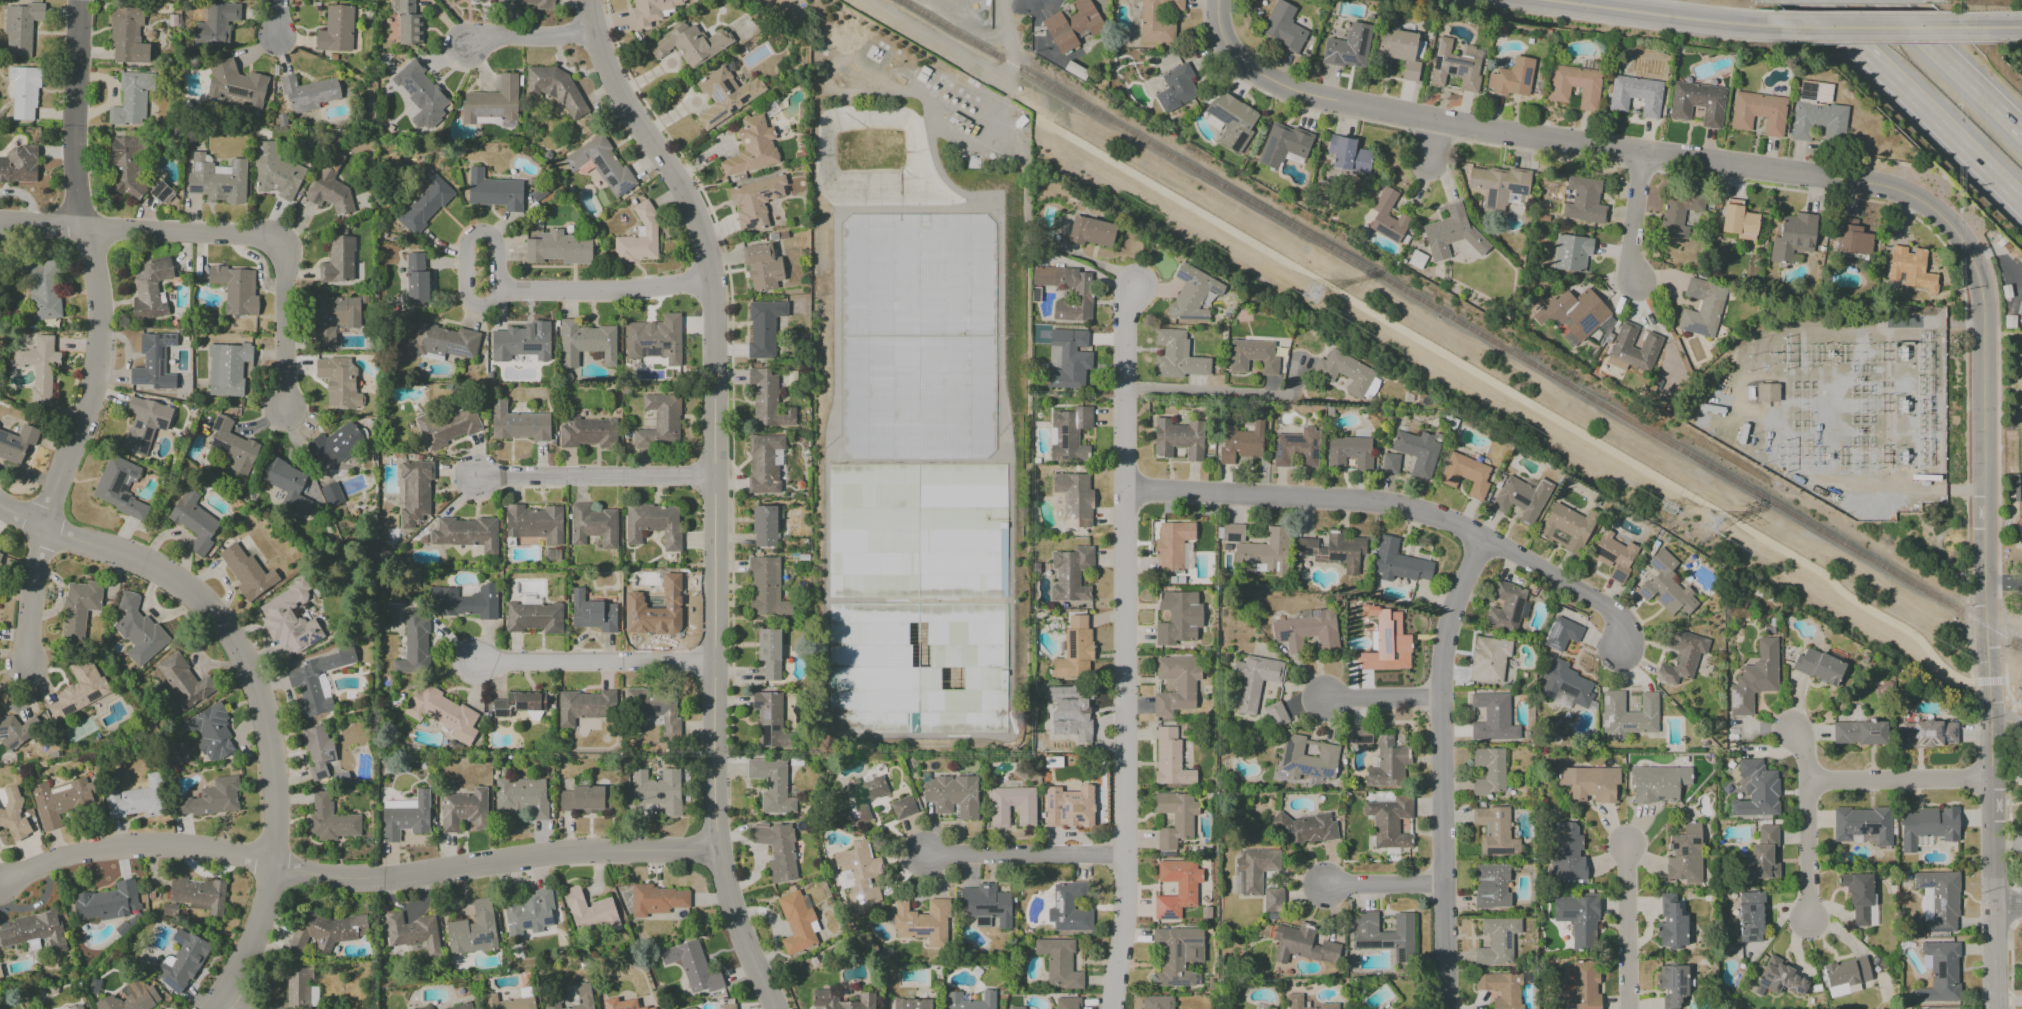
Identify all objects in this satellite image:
road: (2006, 0)
road: (1030, 2)
building: (530, 3)
road: (1724, 7)
building: (651, 11)
road: (1861, 12)
road: (1980, 12)
road: (1672, 16)
road: (277, 18)
building: (1157, 20)
building: (407, 22)
building: (216, 25)
building: (1072, 25)
building: (1282, 26)
road: (1988, 26)
building: (20, 27)
road: (1877, 27)
building: (336, 30)
road: (534, 35)
building: (127, 36)
rooftop solar panel: (1363, 41)
building: (689, 44)
road: (1039, 45)
building: (1348, 47)
rooftop solar panel: (1328, 51)
building: (1402, 51)
rooftop solar panel: (1347, 57)
road: (1007, 63)
building: (1456, 65)
road: (1953, 65)
rooftop solar panel: (1527, 76)
building: (1512, 77)
building: (235, 83)
building: (1574, 85)
building: (556, 88)
building: (1175, 88)
rooftop solar panel: (239, 90)
building: (22, 92)
rooftop solar panel: (716, 92)
building: (1815, 92)
building: (309, 93)
building: (420, 94)
building: (1636, 95)
building: (725, 96)
building: (131, 100)
road: (1916, 102)
building: (1697, 103)
rooftop solar panel: (494, 110)
building: (1758, 113)
rooftop solar panel: (1223, 114)
rooftop solar panel: (716, 117)
rooftop solar panel: (1235, 119)
rooftop solar panel: (488, 120)
building: (1232, 120)
building: (1817, 120)
road: (1427, 142)
building: (1283, 144)
building: (751, 148)
rooftop solar panel: (1269, 149)
building: (1348, 154)
building: (19, 164)
building: (126, 164)
building: (601, 164)
rooftop solar panel: (199, 166)
building: (276, 172)
building: (217, 179)
building: (1497, 185)
rooftop solar panel: (625, 186)
road: (1767, 186)
rooftop solar panel: (197, 189)
rooftop solar panel: (228, 189)
rooftop solar panel: (1518, 190)
building: (159, 191)
building: (494, 191)
building: (329, 193)
rooftop solar panel: (765, 194)
building: (1583, 200)
building: (754, 201)
building: (425, 202)
building: (1678, 212)
road: (1634, 216)
building: (1387, 217)
road: (1942, 219)
building: (1738, 220)
rooftop solar panel: (751, 223)
building: (1091, 231)
rooftop solar panel: (1386, 231)
road: (142, 233)
building: (532, 233)
building: (1452, 233)
building: (638, 237)
building: (1793, 237)
building: (1852, 238)
building: (559, 248)
road: (474, 251)
building: (1571, 252)
building: (338, 260)
building: (762, 267)
building: (1910, 269)
rooftop solar panel: (1183, 277)
building: (416, 279)
road: (609, 288)
building: (150, 289)
building: (236, 289)
building: (42, 290)
rooftop solar panel: (1217, 290)
building: (2007, 291)
building: (1081, 294)
building: (1193, 294)
rooftop solar panel: (1035, 296)
building: (1701, 307)
building: (2021, 309)
building: (1573, 313)
building: (337, 316)
building: (2010, 322)
railway: (1462, 323)
rooftop solar panel: (1585, 324)
building: (763, 327)
rooftop solar panel: (1695, 328)
road: (288, 331)
rooftop solar panel: (754, 332)
rooftop solar panel: (765, 335)
building: (915, 337)
road: (102, 339)
building: (655, 339)
building: (444, 341)
building: (521, 342)
building: (585, 342)
rooftop solar panel: (645, 343)
rooftop solar panel: (448, 344)
rooftop solar panel: (528, 347)
rooftop solar panel: (515, 348)
building: (1632, 348)
rooftop solar panel: (458, 350)
rooftop solar panel: (752, 350)
rooftop solar panel: (766, 355)
building: (1177, 355)
building: (1252, 356)
building: (153, 357)
building: (1070, 359)
building: (39, 367)
building: (227, 369)
building: (1344, 372)
building: (338, 382)
road: (731, 388)
building: (1371, 388)
building: (1765, 392)
road: (1205, 394)
building: (767, 400)
road: (1539, 409)
park: (2010, 414)
power substation: (1843, 417)
building: (660, 421)
building: (144, 423)
building: (519, 423)
building: (448, 426)
rooftop solar panel: (1067, 429)
building: (587, 433)
building: (1068, 433)
building: (1178, 438)
rooftop solar panel: (1293, 438)
rooftop solar panel: (1064, 442)
building: (1241, 442)
park: (2019, 443)
building: (16, 444)
building: (232, 446)
building: (335, 446)
building: (1297, 447)
building: (1349, 452)
building: (1417, 452)
building: (1389, 463)
building: (764, 464)
road: (1998, 468)
building: (1465, 474)
road: (599, 476)
building: (285, 484)
building: (119, 487)
building: (415, 492)
building: (331, 494)
road: (717, 494)
building: (1521, 498)
rooftop solar panel: (1522, 498)
building: (1074, 499)
road: (1402, 508)
building: (194, 521)
power tower: (1711, 522)
building: (534, 523)
building: (653, 524)
building: (593, 525)
building: (764, 526)
building: (1567, 527)
building: (466, 533)
building: (1171, 545)
building: (1257, 548)
rooftop solar panel: (1306, 550)
building: (1334, 550)
rooftop solar panel: (1602, 554)
building: (1613, 554)
building: (0, 556)
rooftop solar panel: (1334, 557)
building: (1398, 562)
building: (246, 572)
building: (1070, 574)
rooftop solar panel: (1618, 577)
road: (2003, 581)
building: (1666, 586)
building: (765, 588)
building: (465, 601)
building: (1507, 607)
building: (79, 608)
rooftop solar panel: (1517, 609)
building: (655, 610)
rooftop solar panel: (1524, 610)
parking lot: (2020, 610)
building: (592, 613)
building: (534, 617)
building: (1178, 617)
building: (289, 619)
building: (138, 630)
building: (1307, 631)
rooftop solar panel: (1554, 631)
building: (1561, 634)
rooftop solar panel: (1386, 640)
building: (414, 643)
building: (1387, 643)
road: (1124, 647)
rooftop solar panel: (1552, 647)
building: (1074, 649)
building: (769, 653)
building: (1681, 657)
building: (1489, 659)
road: (602, 661)
building: (1818, 666)
building: (917, 668)
road: (257, 678)
building: (1754, 678)
building: (1254, 680)
building: (184, 681)
building: (316, 681)
building: (1565, 684)
building: (1176, 685)
building: (78, 690)
rooftop solar panel: (95, 697)
road: (1380, 698)
rooftop solar panel: (1604, 699)
rooftop solar panel: (1733, 699)
building: (518, 703)
rooftop solar panel: (521, 705)
building: (585, 706)
rooftop solar panel: (68, 707)
building: (655, 708)
building: (443, 713)
building: (1071, 713)
building: (1275, 714)
building: (1627, 715)
building: (1493, 718)
building: (769, 720)
rooftop solar panel: (1607, 722)
rooftop solar panel: (1628, 727)
rooftop solar panel: (1940, 731)
rooftop solar panel: (4, 732)
building: (13, 732)
building: (210, 732)
building: (1859, 732)
rooftop solar panel: (1916, 732)
rooftop solar panel: (1954, 732)
building: (1360, 734)
rooftop solar panel: (1500, 734)
building: (1929, 734)
rooftop solar panel: (1483, 735)
rooftop solar panel: (1507, 736)
rooftop solar panel: (1495, 737)
rooftop solar panel: (1359, 741)
rooftop solar panel: (1923, 741)
rooftop solar panel: (1931, 741)
rooftop solar panel: (1945, 741)
rooftop solar panel: (12, 744)
building: (317, 752)
building: (1308, 758)
building: (1170, 759)
building: (1387, 764)
rooftop solar panel: (1295, 766)
road: (1440, 769)
building: (1489, 771)
rooftop solar panel: (1324, 773)
rooftop solar panel: (1314, 775)
road: (1897, 780)
building: (1590, 782)
building: (1657, 783)
building: (772, 785)
building: (658, 790)
building: (1756, 790)
building: (952, 795)
building: (862, 796)
building: (523, 797)
building: (211, 798)
building: (137, 799)
building: (585, 799)
building: (61, 800)
building: (903, 807)
building: (1069, 807)
building: (464, 810)
building: (12, 813)
building: (405, 816)
building: (998, 816)
building: (1175, 818)
building: (330, 820)
building: (1389, 821)
building: (1862, 825)
road: (1807, 826)
rooftop solar panel: (1863, 826)
building: (1928, 826)
building: (1305, 828)
building: (1495, 831)
building: (777, 850)
rooftop solar panel: (1498, 852)
building: (1565, 853)
building: (1685, 854)
building: (1762, 855)
road: (1023, 860)
building: (1253, 869)
road: (354, 874)
building: (858, 875)
road: (1384, 885)
building: (1491, 886)
building: (1176, 887)
rooftop solar panel: (1927, 888)
building: (199, 895)
building: (1859, 897)
building: (657, 900)
building: (1272, 900)
building: (1939, 900)
building: (106, 902)
building: (986, 904)
rooftop solar panel: (1940, 904)
road: (2007, 906)
building: (1068, 908)
building: (590, 911)
building: (528, 914)
building: (1751, 917)
building: (1578, 918)
rooftop solar panel: (548, 921)
building: (922, 922)
rooftop solar panel: (981, 922)
building: (797, 923)
building: (1670, 923)
rooftop solar panel: (528, 924)
road: (1632, 927)
building: (35, 930)
building: (473, 930)
building: (325, 931)
rooftop solar panel: (920, 931)
building: (412, 932)
building: (1384, 934)
rooftop solar panel: (489, 935)
rooftop solar panel: (482, 937)
rooftop solar panel: (179, 940)
rooftop solar panel: (1191, 940)
building: (1497, 941)
rooftop solar panel: (1506, 941)
building: (1303, 944)
rooftop solar panel: (1175, 952)
building: (1177, 955)
building: (180, 961)
building: (1059, 963)
building: (691, 966)
rooftop solar panel: (1942, 970)
building: (1940, 973)
building: (1845, 975)
building: (1778, 978)
rooftop solar panel: (1670, 980)
rooftop solar panel: (1176, 982)
rooftop solar panel: (1680, 982)
rooftop solar panel: (175, 984)
building: (1672, 984)
building: (1580, 988)
building: (300, 989)
building: (1501, 989)
building: (584, 991)
rooftop solar panel: (1679, 991)
building: (824, 997)
building: (131, 998)
building: (1294, 998)
road: (223, 1000)
road: (235, 1000)
building: (511, 1000)
building: (970, 1001)
building: (1157, 1002)
building: (1067, 1003)
building: (622, 1004)
building: (912, 1004)
building: (461, 1006)
building: (726, 1006)
building: (80, 1007)
building: (425, 1007)
building: (1016, 1007)

